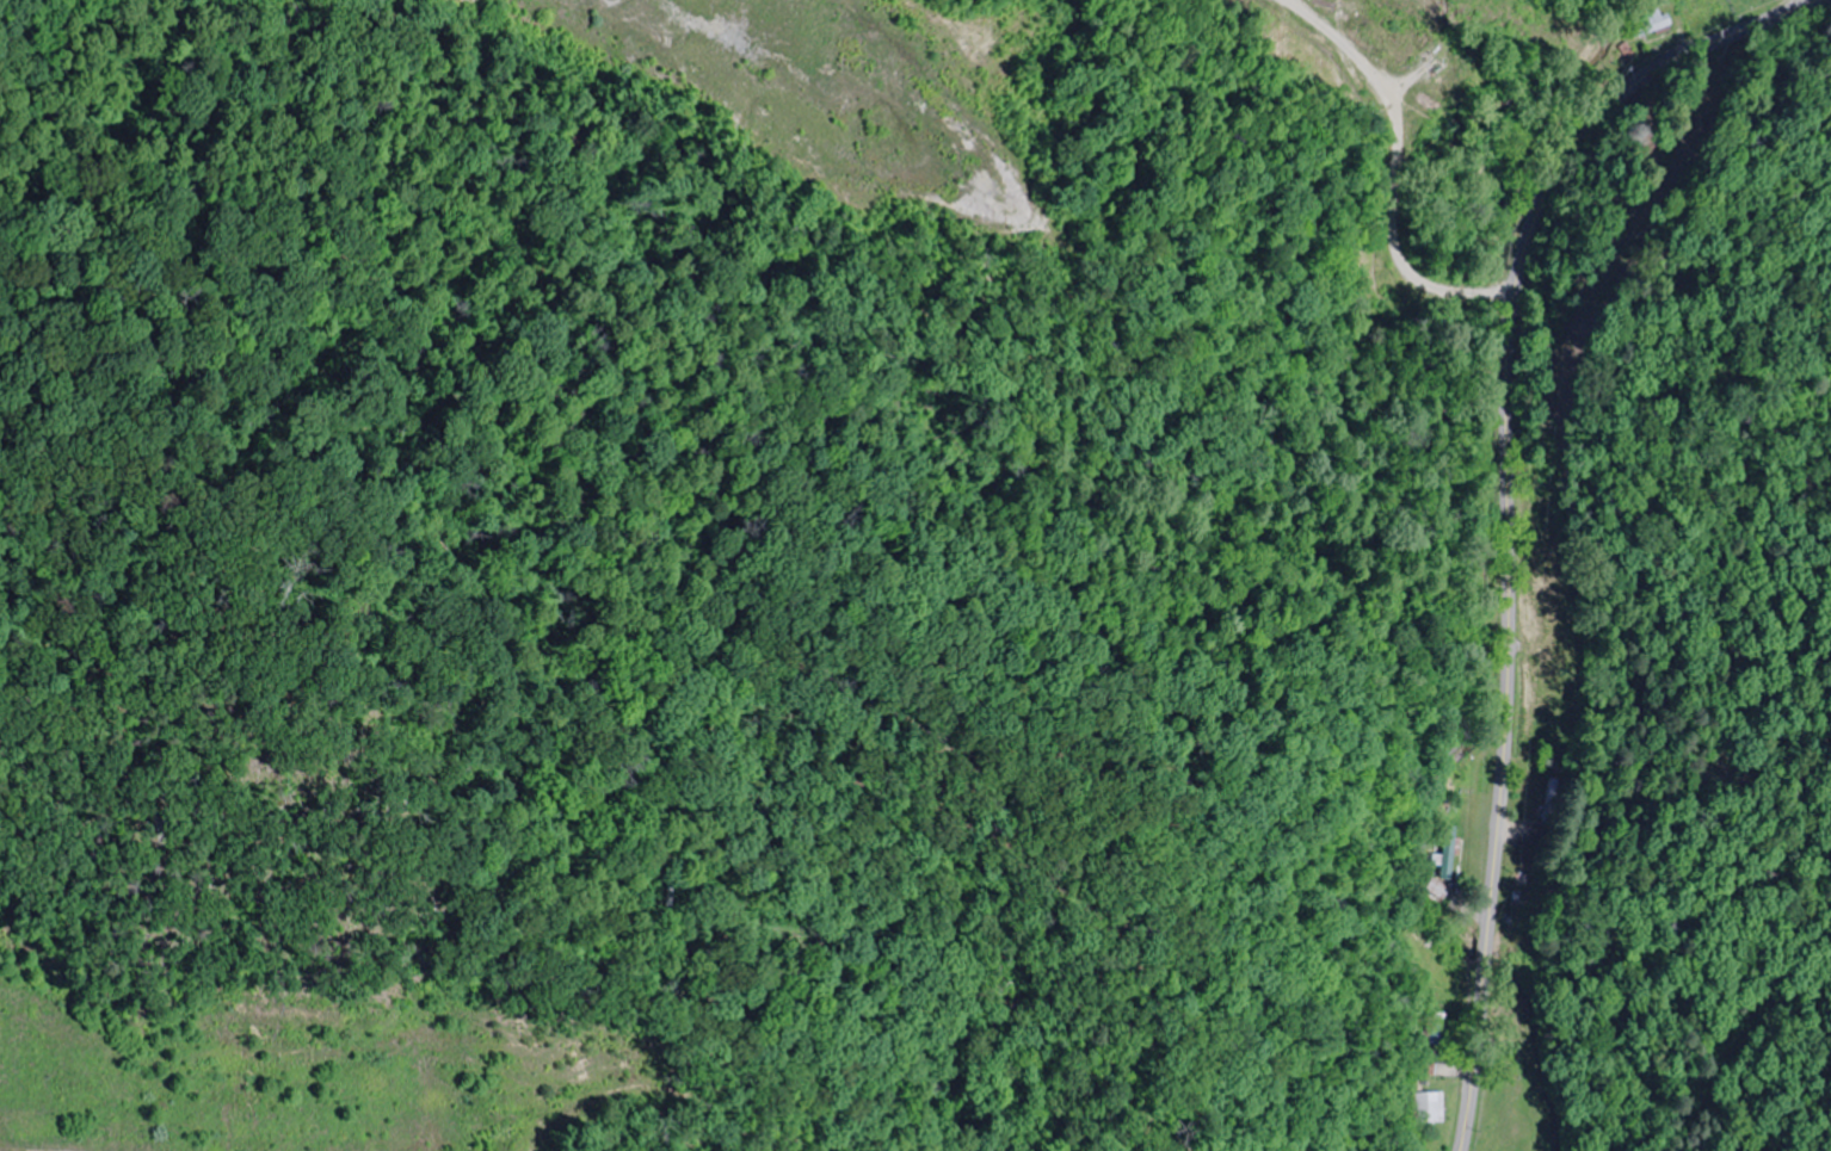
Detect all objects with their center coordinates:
road: (1508, 496)
building: (1547, 699)
building: (1541, 800)

